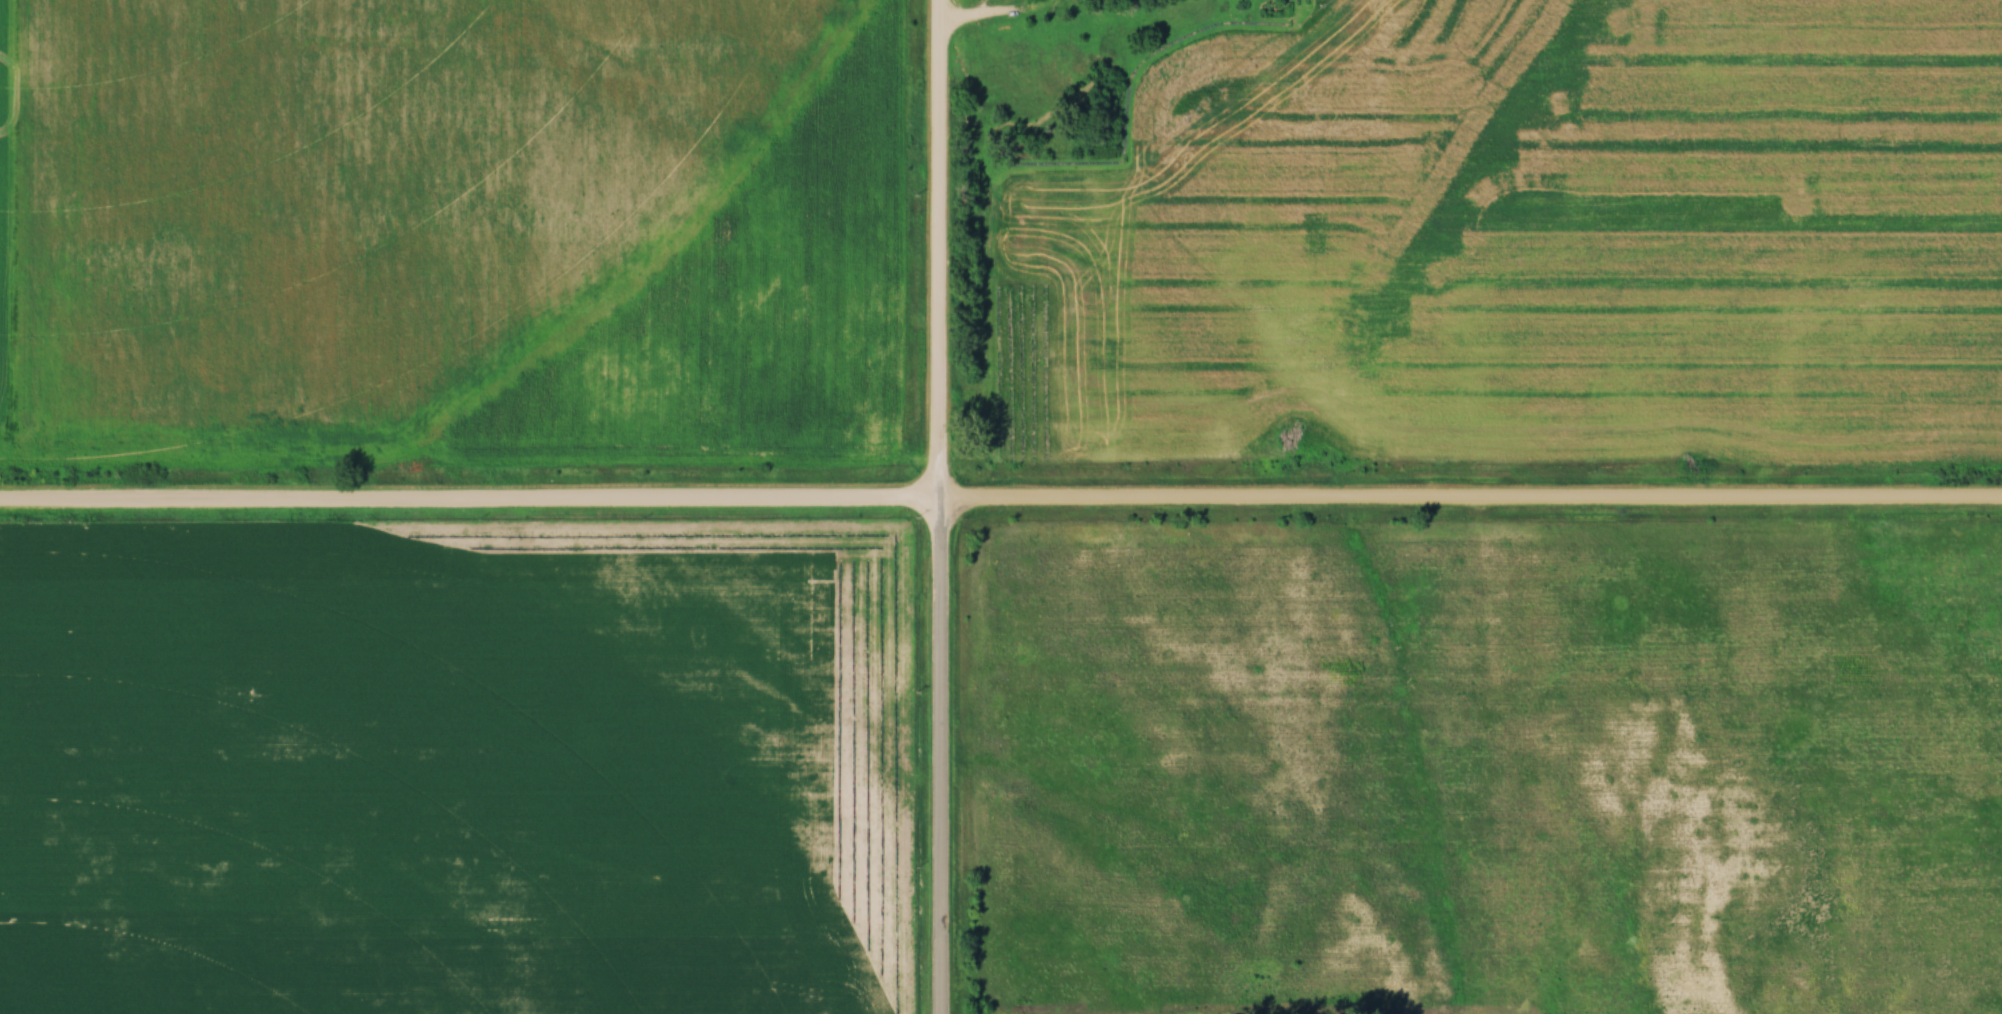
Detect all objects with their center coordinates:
road: (997, 16)
road: (940, 252)
road: (1471, 503)
road: (470, 504)
road: (943, 758)

